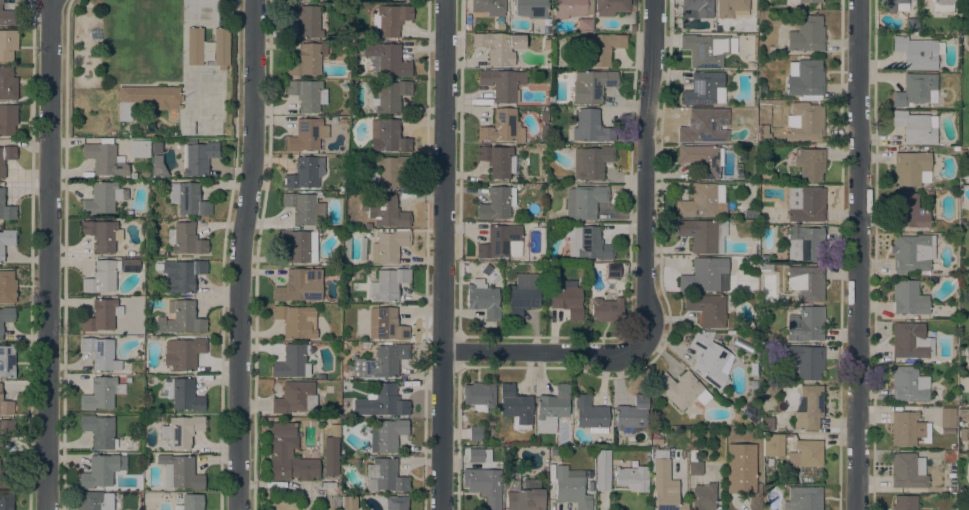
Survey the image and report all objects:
building: (224, 0)
building: (408, 1)
building: (809, 1)
building: (943, 1)
building: (893, 5)
building: (489, 7)
building: (610, 7)
building: (571, 8)
building: (729, 8)
building: (696, 9)
building: (199, 10)
building: (532, 10)
building: (6, 17)
building: (390, 19)
building: (306, 20)
building: (467, 24)
building: (584, 25)
building: (911, 25)
building: (806, 35)
building: (221, 39)
building: (545, 44)
building: (7, 45)
building: (498, 47)
building: (600, 48)
building: (705, 50)
building: (917, 53)
building: (388, 59)
building: (307, 60)
park: (964, 72)
building: (805, 80)
building: (7, 84)
building: (503, 84)
building: (591, 86)
building: (702, 88)
building: (916, 90)
building: (307, 95)
building: (391, 96)
building: (551, 98)
building: (146, 99)
building: (543, 117)
building: (8, 119)
building: (805, 122)
building: (703, 126)
building: (502, 127)
building: (590, 127)
building: (915, 128)
building: (542, 130)
building: (762, 133)
building: (306, 135)
building: (389, 136)
building: (191, 141)
building: (157, 148)
building: (139, 149)
building: (6, 157)
building: (197, 158)
building: (105, 159)
building: (496, 160)
building: (701, 160)
building: (591, 162)
building: (809, 164)
building: (157, 167)
building: (911, 169)
building: (386, 172)
building: (305, 173)
building: (739, 174)
building: (765, 174)
building: (133, 176)
road: (646, 176)
building: (102, 198)
building: (188, 199)
building: (700, 201)
building: (584, 202)
building: (497, 204)
building: (805, 204)
building: (303, 208)
building: (6, 209)
building: (908, 211)
building: (389, 212)
building: (102, 235)
building: (703, 235)
building: (6, 240)
building: (185, 240)
building: (501, 242)
building: (587, 243)
building: (805, 244)
building: (297, 246)
building: (388, 246)
building: (346, 248)
building: (362, 250)
road: (240, 254)
building: (912, 254)
road: (50, 255)
road: (444, 255)
road: (857, 255)
building: (130, 265)
building: (765, 268)
building: (612, 271)
building: (181, 275)
building: (704, 275)
building: (101, 277)
building: (806, 283)
building: (388, 284)
building: (300, 286)
building: (7, 287)
building: (522, 296)
building: (565, 298)
building: (908, 298)
building: (482, 299)
building: (344, 300)
building: (707, 309)
building: (606, 311)
building: (101, 315)
building: (6, 316)
building: (180, 319)
building: (296, 321)
building: (385, 324)
building: (805, 325)
building: (909, 342)
road: (545, 352)
building: (100, 353)
building: (182, 354)
building: (710, 359)
building: (7, 361)
building: (293, 361)
building: (379, 362)
building: (805, 362)
building: (127, 371)
building: (320, 377)
building: (127, 380)
building: (753, 385)
building: (908, 385)
building: (679, 389)
building: (98, 394)
building: (183, 394)
building: (478, 396)
building: (294, 398)
building: (381, 402)
building: (6, 407)
building: (515, 407)
building: (551, 407)
building: (808, 408)
building: (746, 414)
building: (590, 415)
building: (962, 415)
building: (631, 416)
building: (947, 418)
building: (766, 424)
building: (6, 428)
building: (908, 429)
building: (334, 430)
building: (99, 431)
building: (181, 431)
building: (475, 434)
building: (386, 435)
building: (961, 435)
building: (657, 442)
building: (772, 446)
building: (806, 454)
building: (288, 455)
building: (330, 456)
building: (479, 456)
building: (740, 469)
building: (602, 470)
building: (100, 471)
building: (907, 471)
building: (179, 472)
building: (384, 476)
building: (632, 478)
building: (0, 479)
building: (664, 484)
building: (699, 484)
building: (513, 485)
building: (484, 486)
building: (570, 488)
building: (803, 498)
building: (525, 500)
building: (94, 501)
building: (6, 502)
building: (348, 502)
building: (190, 503)
building: (393, 503)
building: (904, 503)

